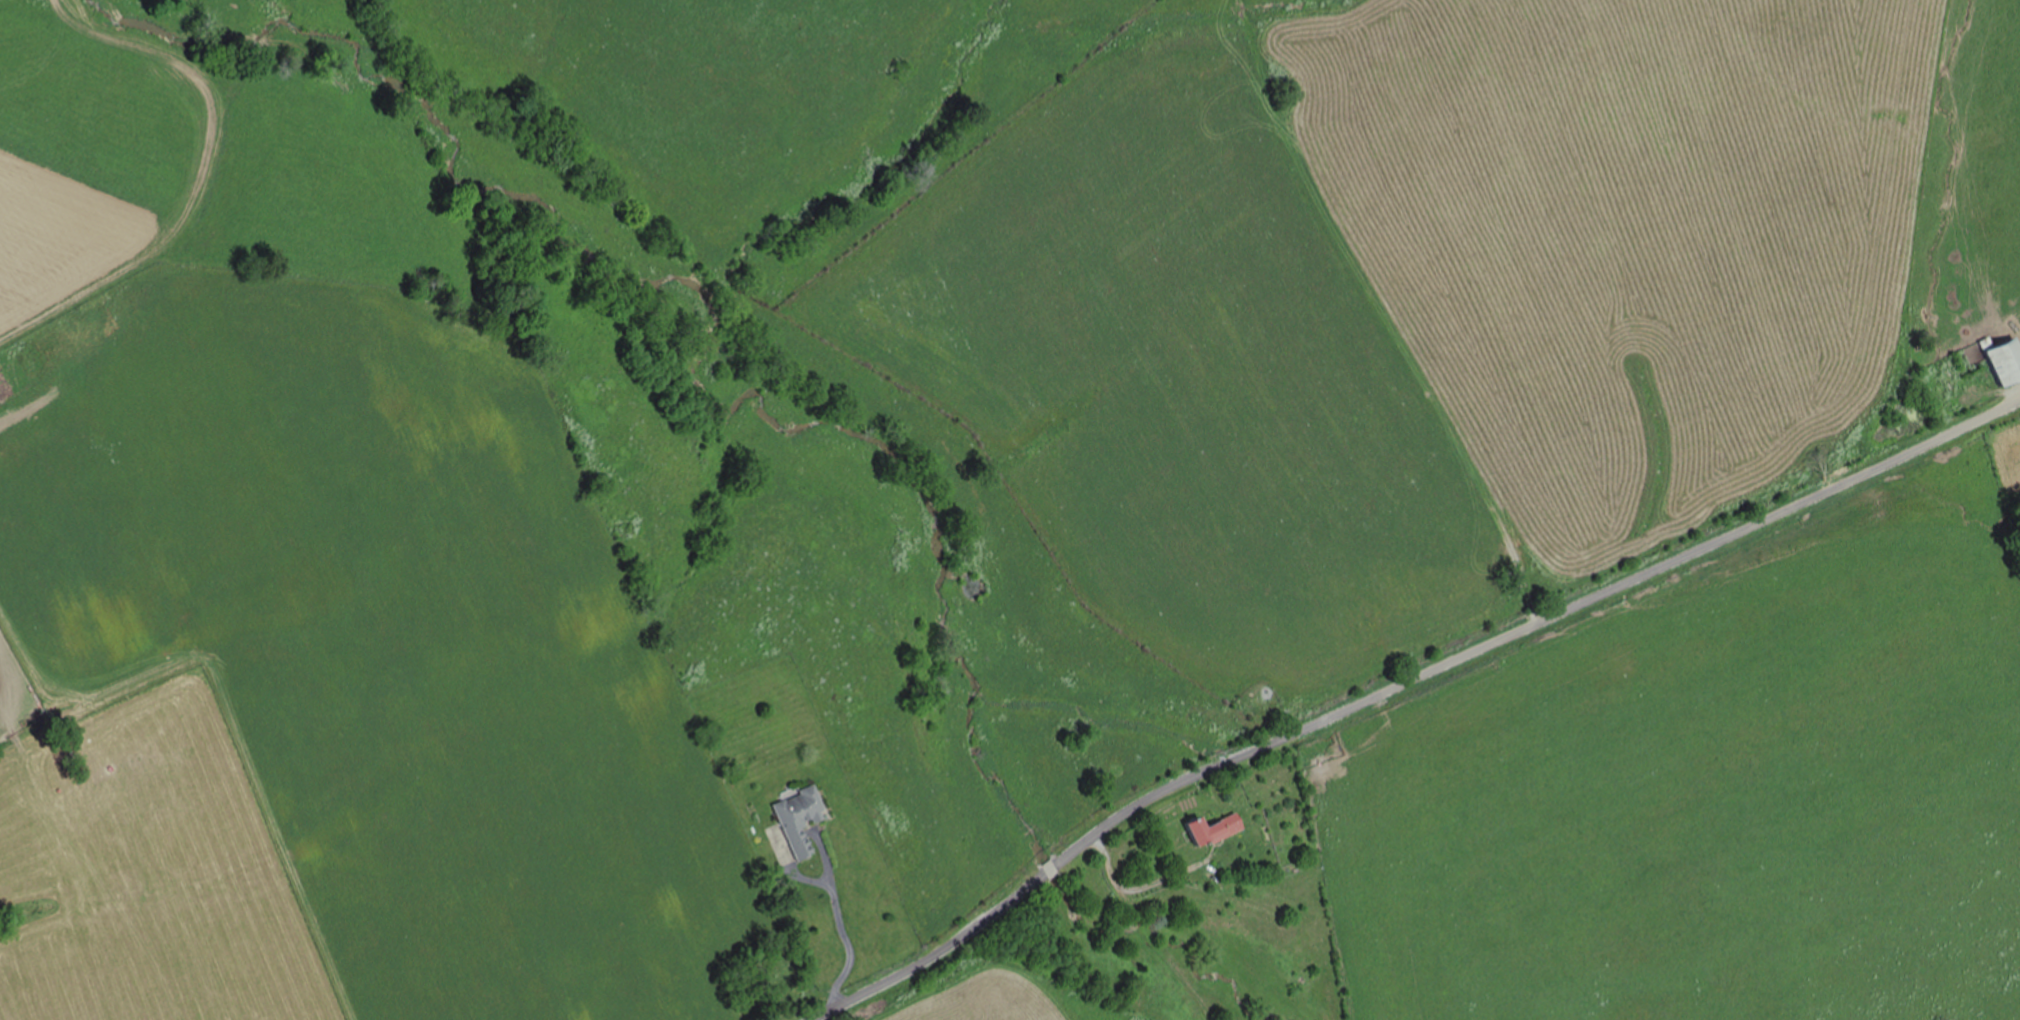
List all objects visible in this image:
building: (2009, 362)
road: (1399, 684)
building: (804, 810)
building: (1215, 830)

